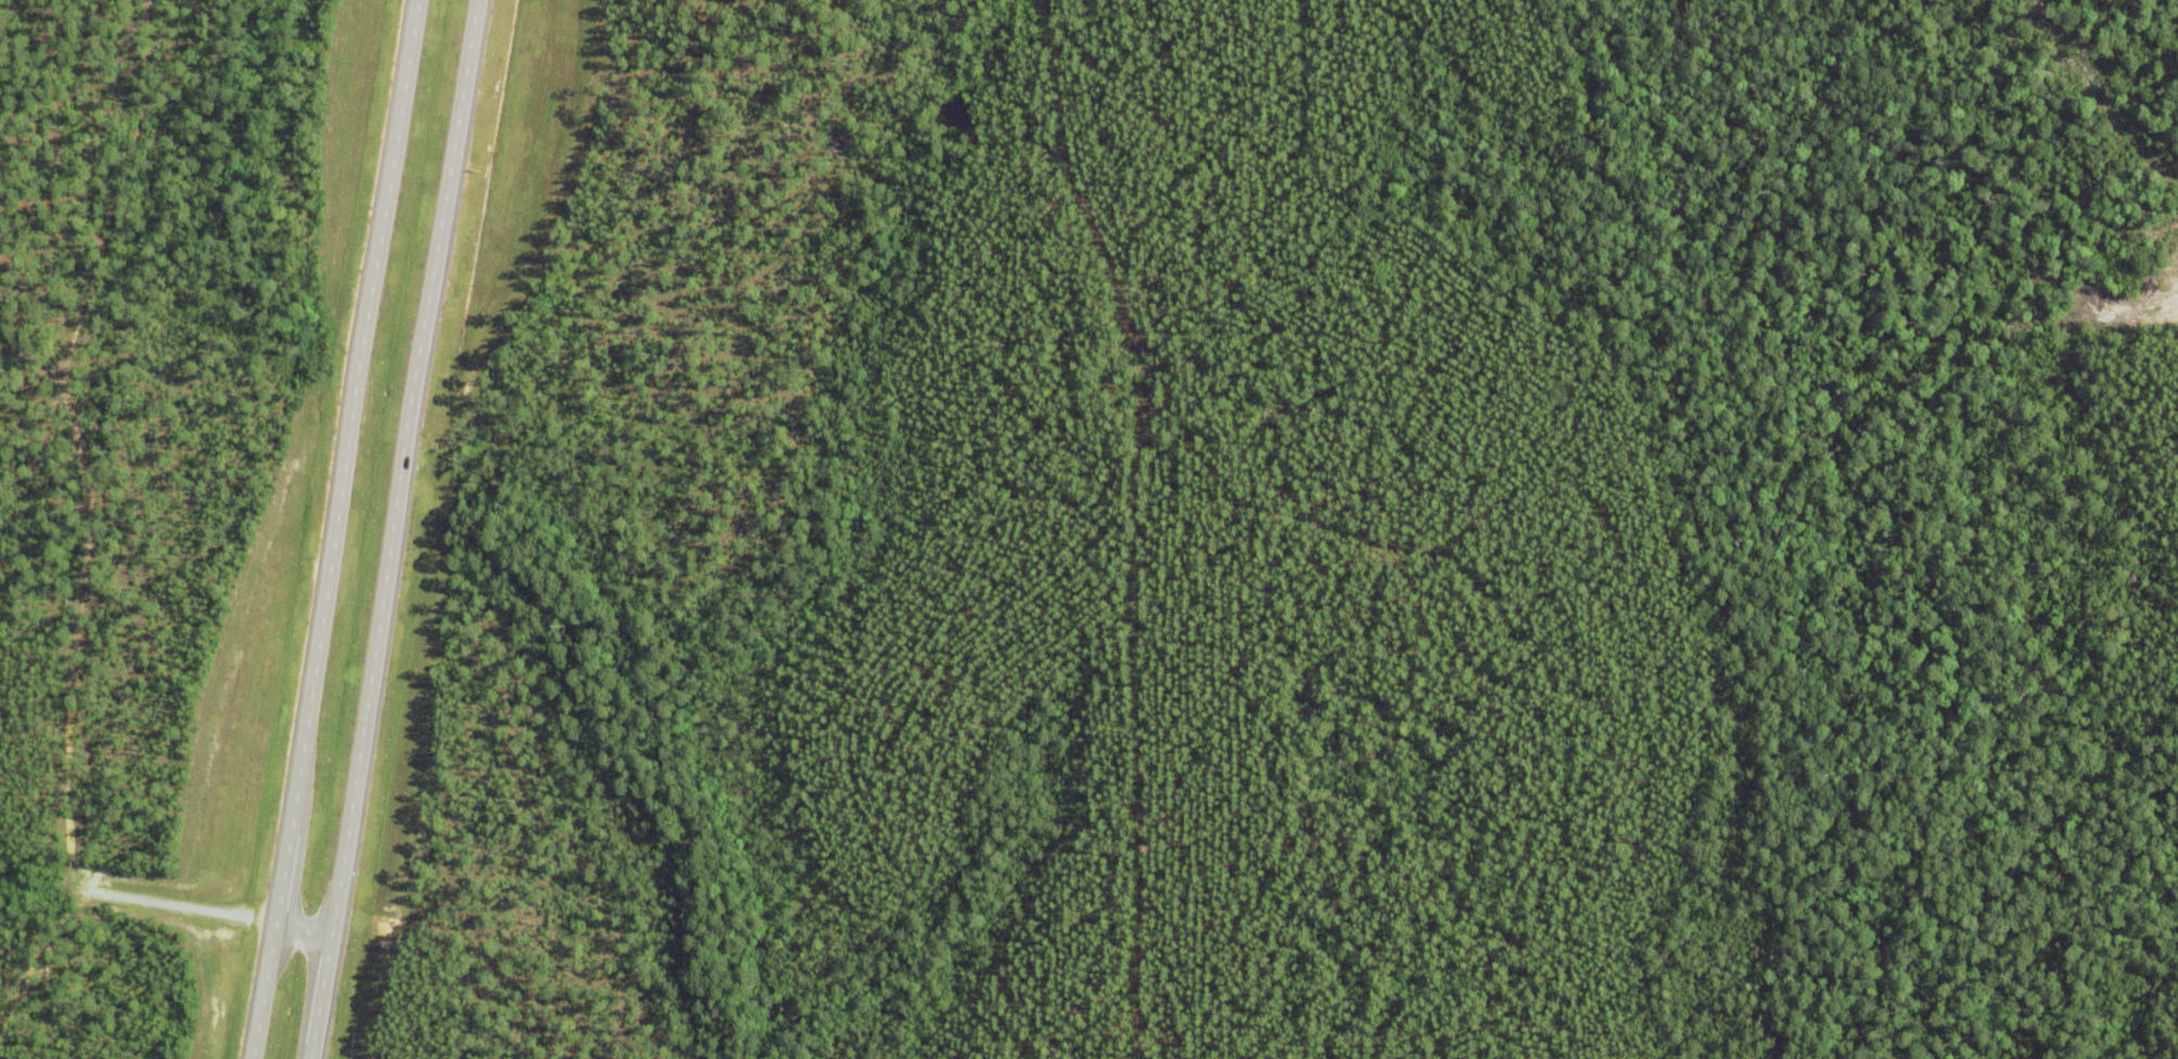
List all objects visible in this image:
road: (1141, 521)
road: (335, 529)
road: (396, 529)

